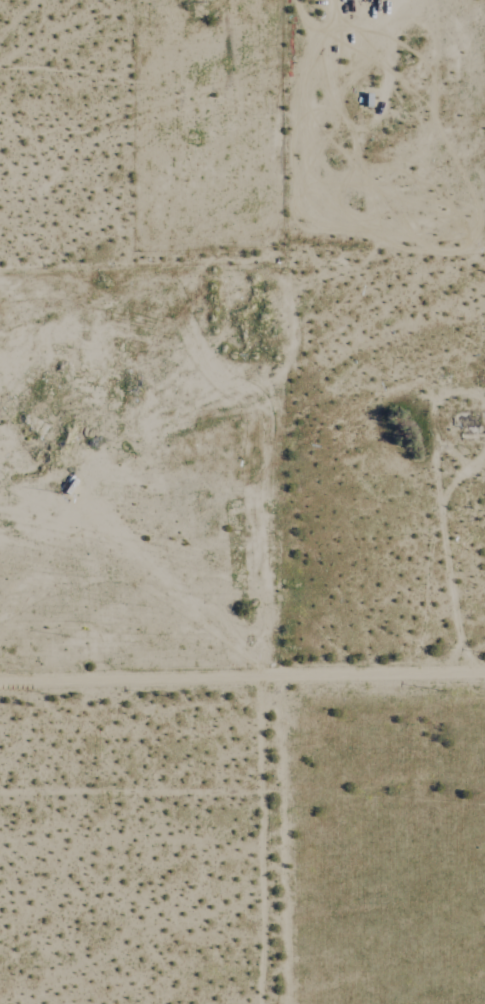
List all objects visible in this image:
road: (134, 278)
road: (270, 478)
road: (242, 674)
road: (283, 838)

